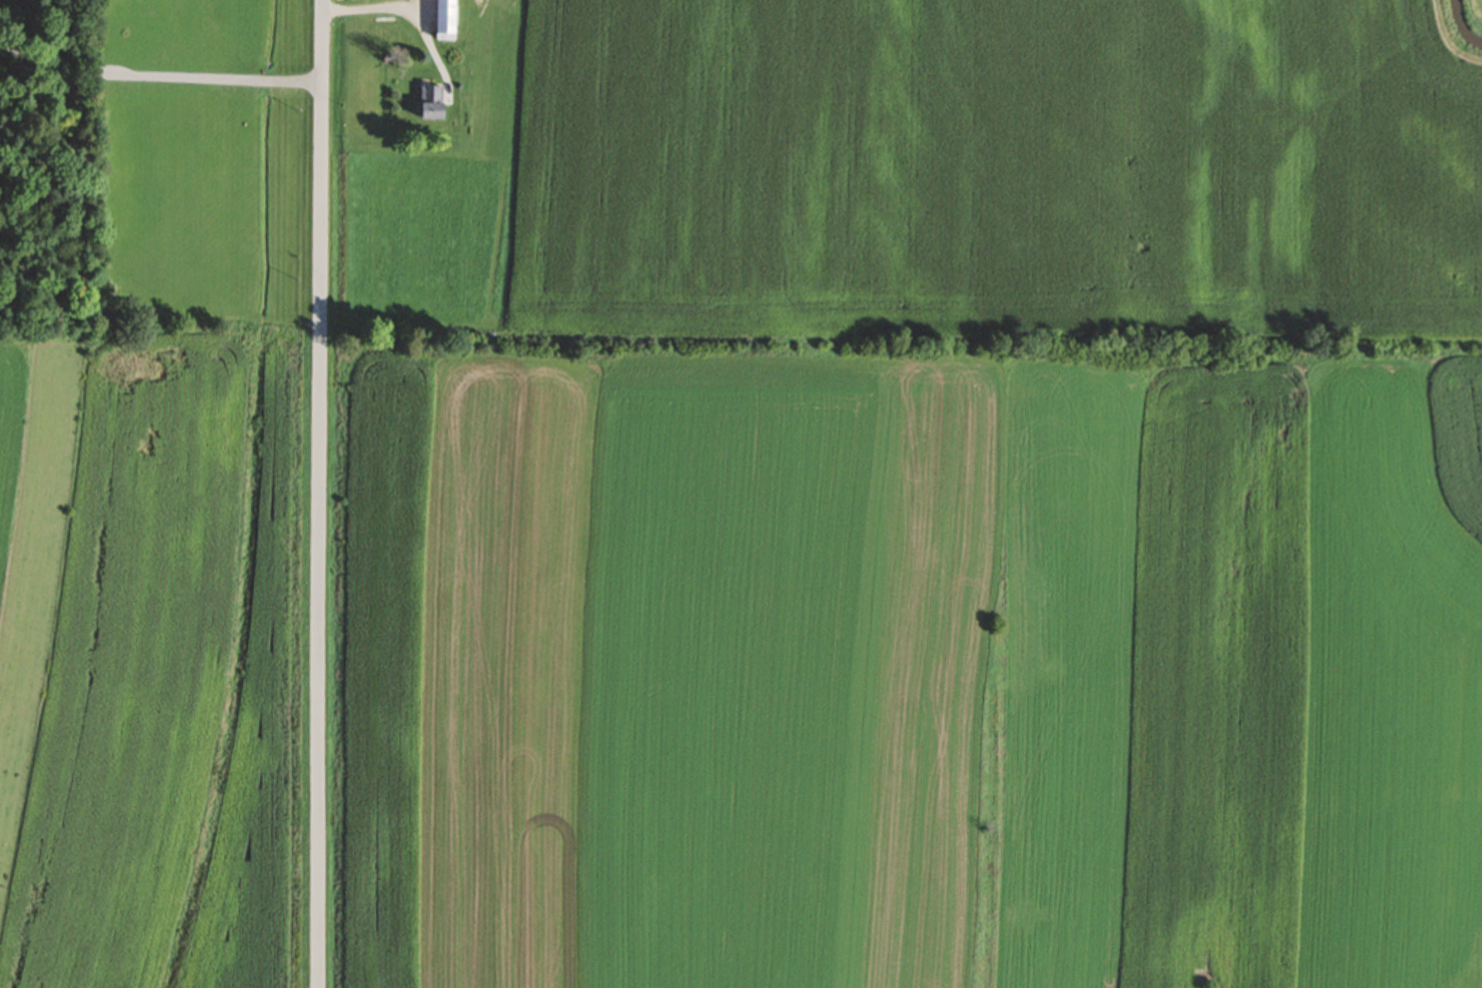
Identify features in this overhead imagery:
road: (373, 9)
building: (447, 21)
road: (33, 65)
road: (193, 84)
building: (433, 110)
road: (42, 146)
road: (320, 493)

